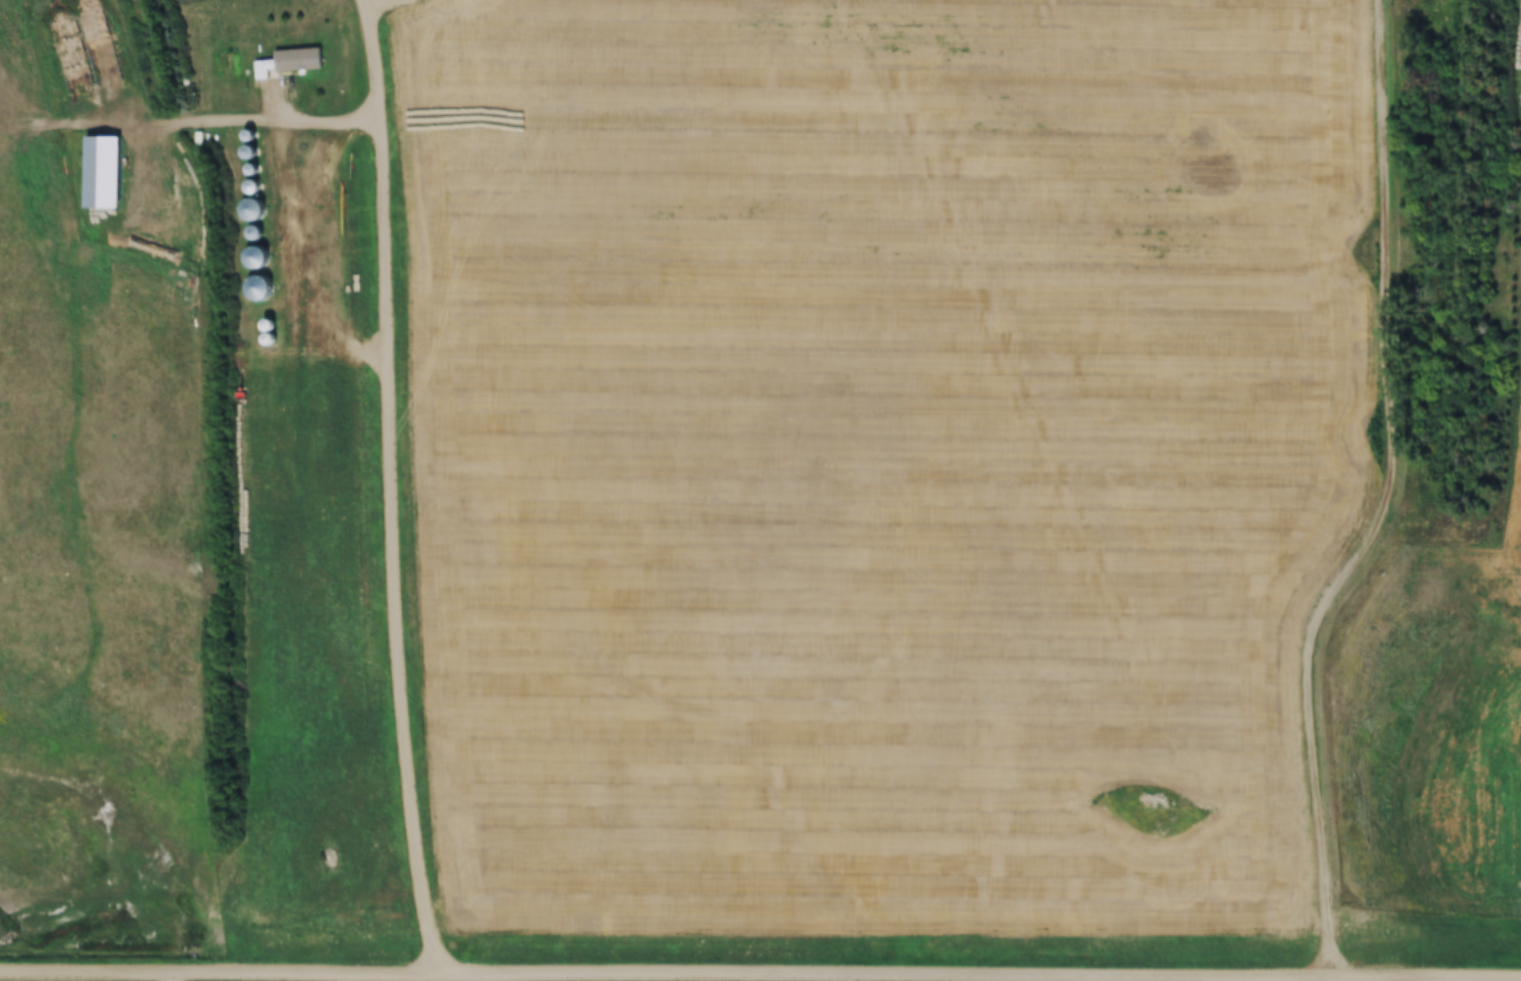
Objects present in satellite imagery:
road: (382, 3)
building: (289, 63)
road: (190, 121)
building: (102, 172)
building: (252, 210)
building: (256, 257)
building: (260, 287)
road: (392, 487)
road: (1385, 503)
road: (760, 973)
road: (1400, 979)

